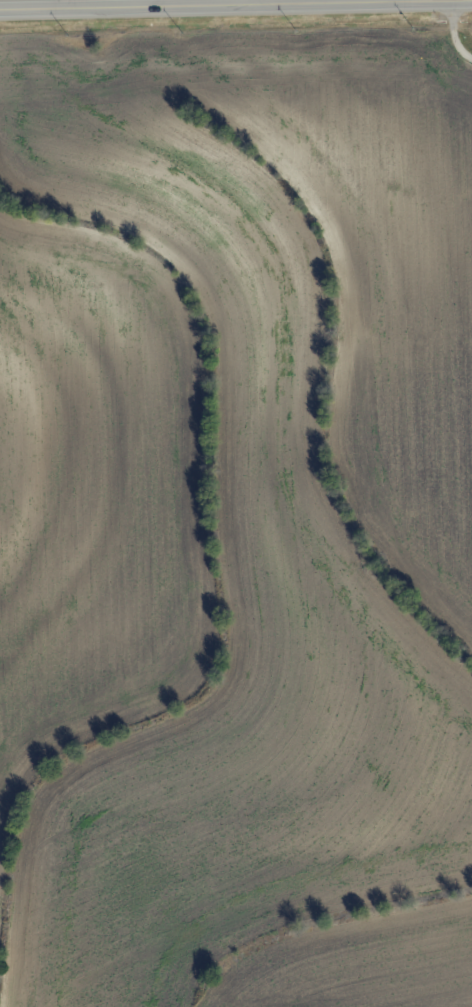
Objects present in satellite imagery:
road: (385, 2)
road: (253, 3)
road: (236, 7)
road: (454, 34)

